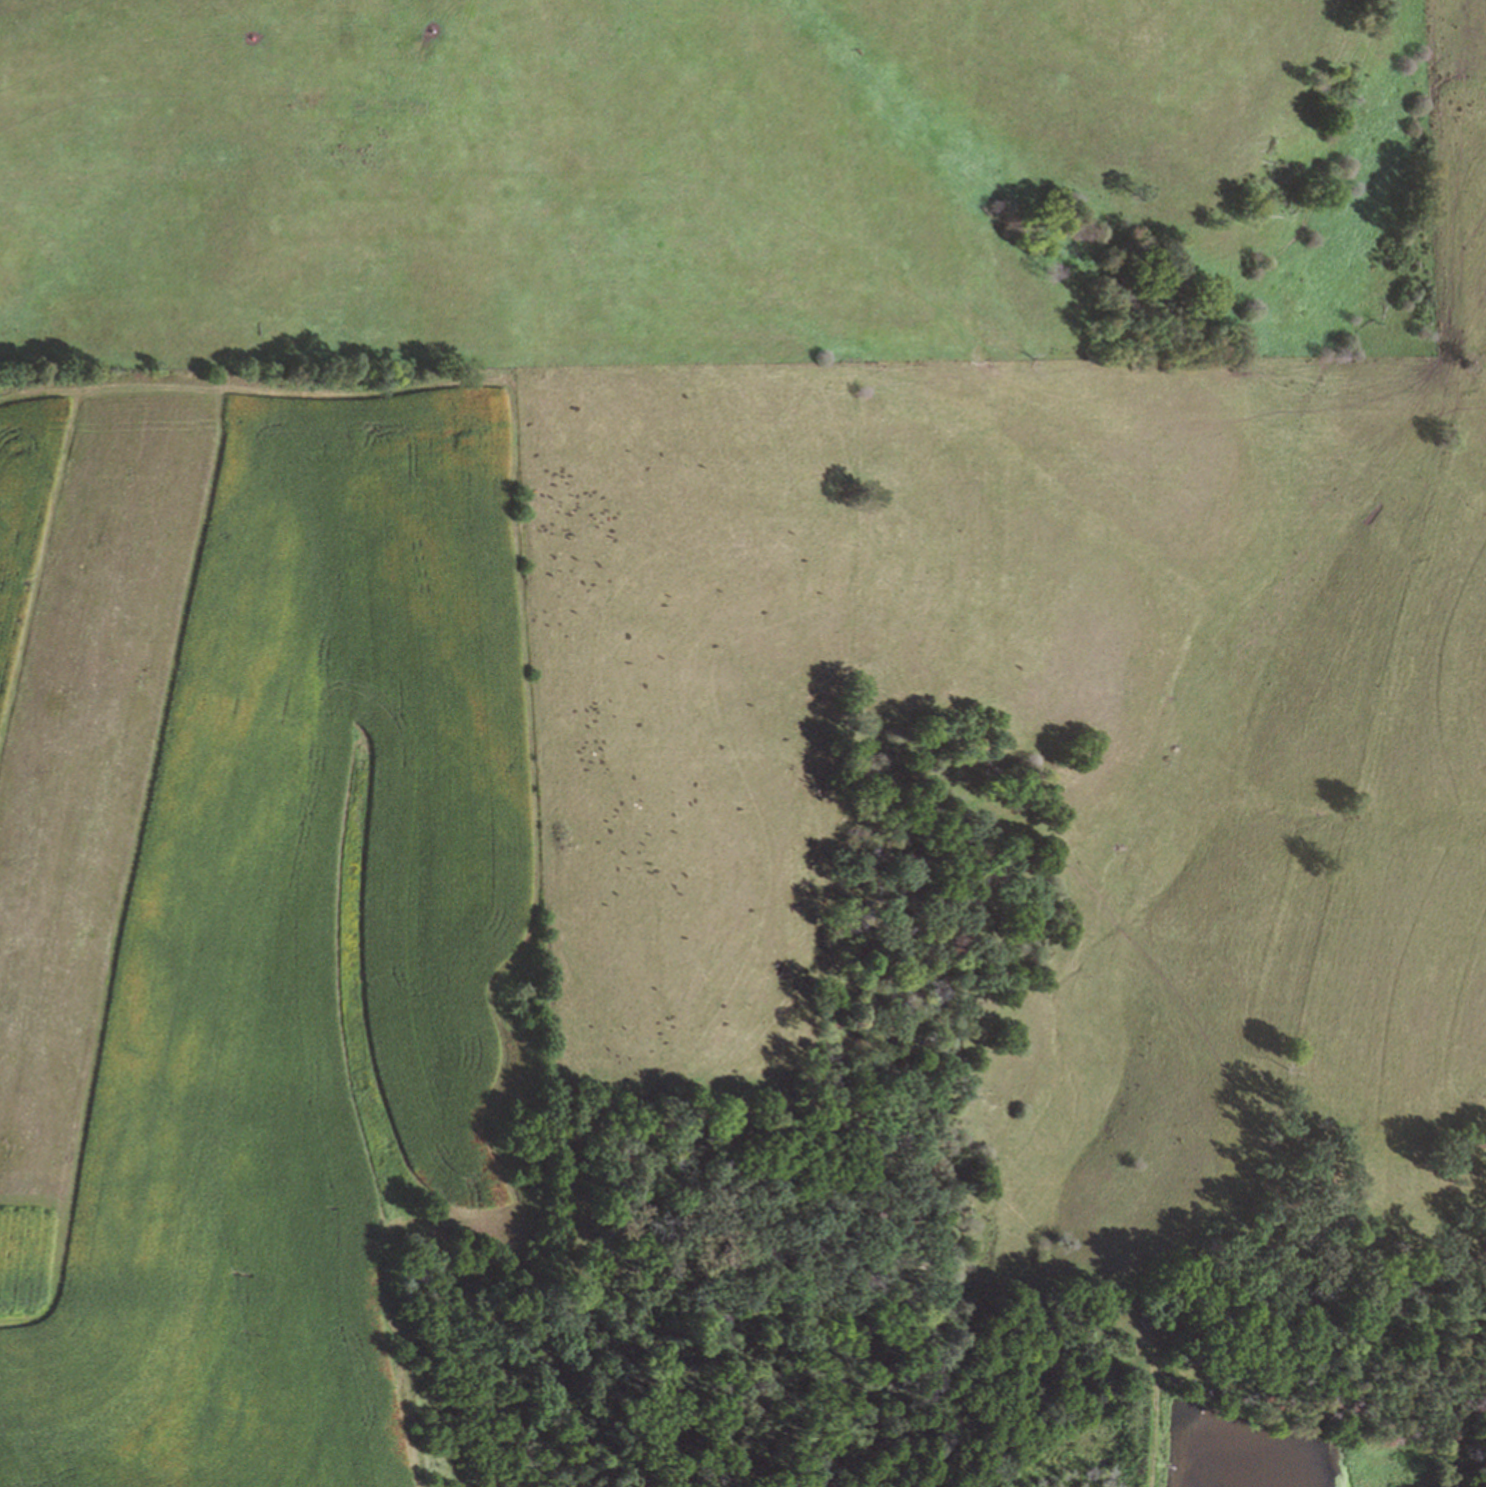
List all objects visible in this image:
building: (1143, 1322)

